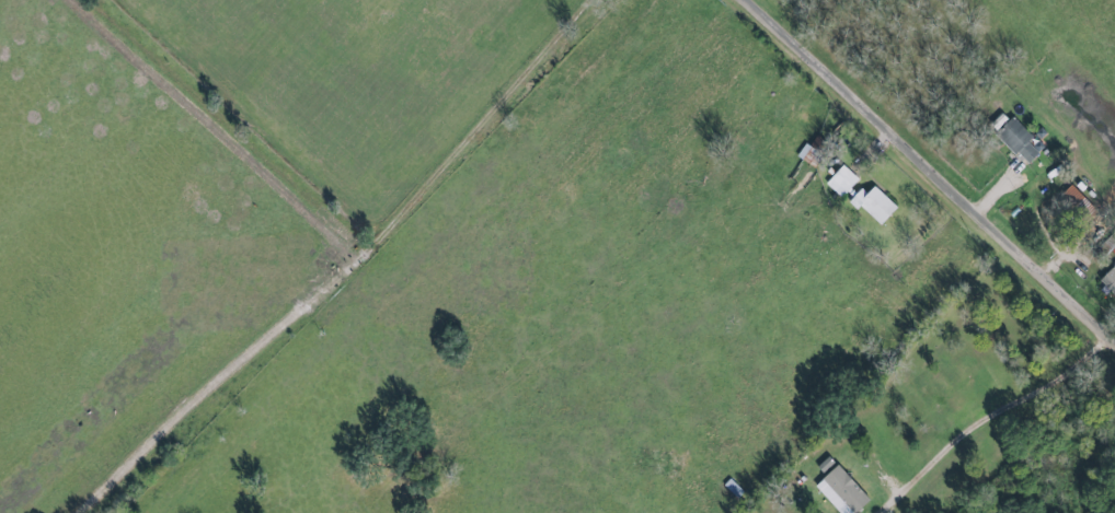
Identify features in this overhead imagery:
building: (1021, 140)
road: (934, 164)
building: (842, 180)
building: (875, 203)
road: (357, 268)
building: (1110, 279)
building: (842, 491)

